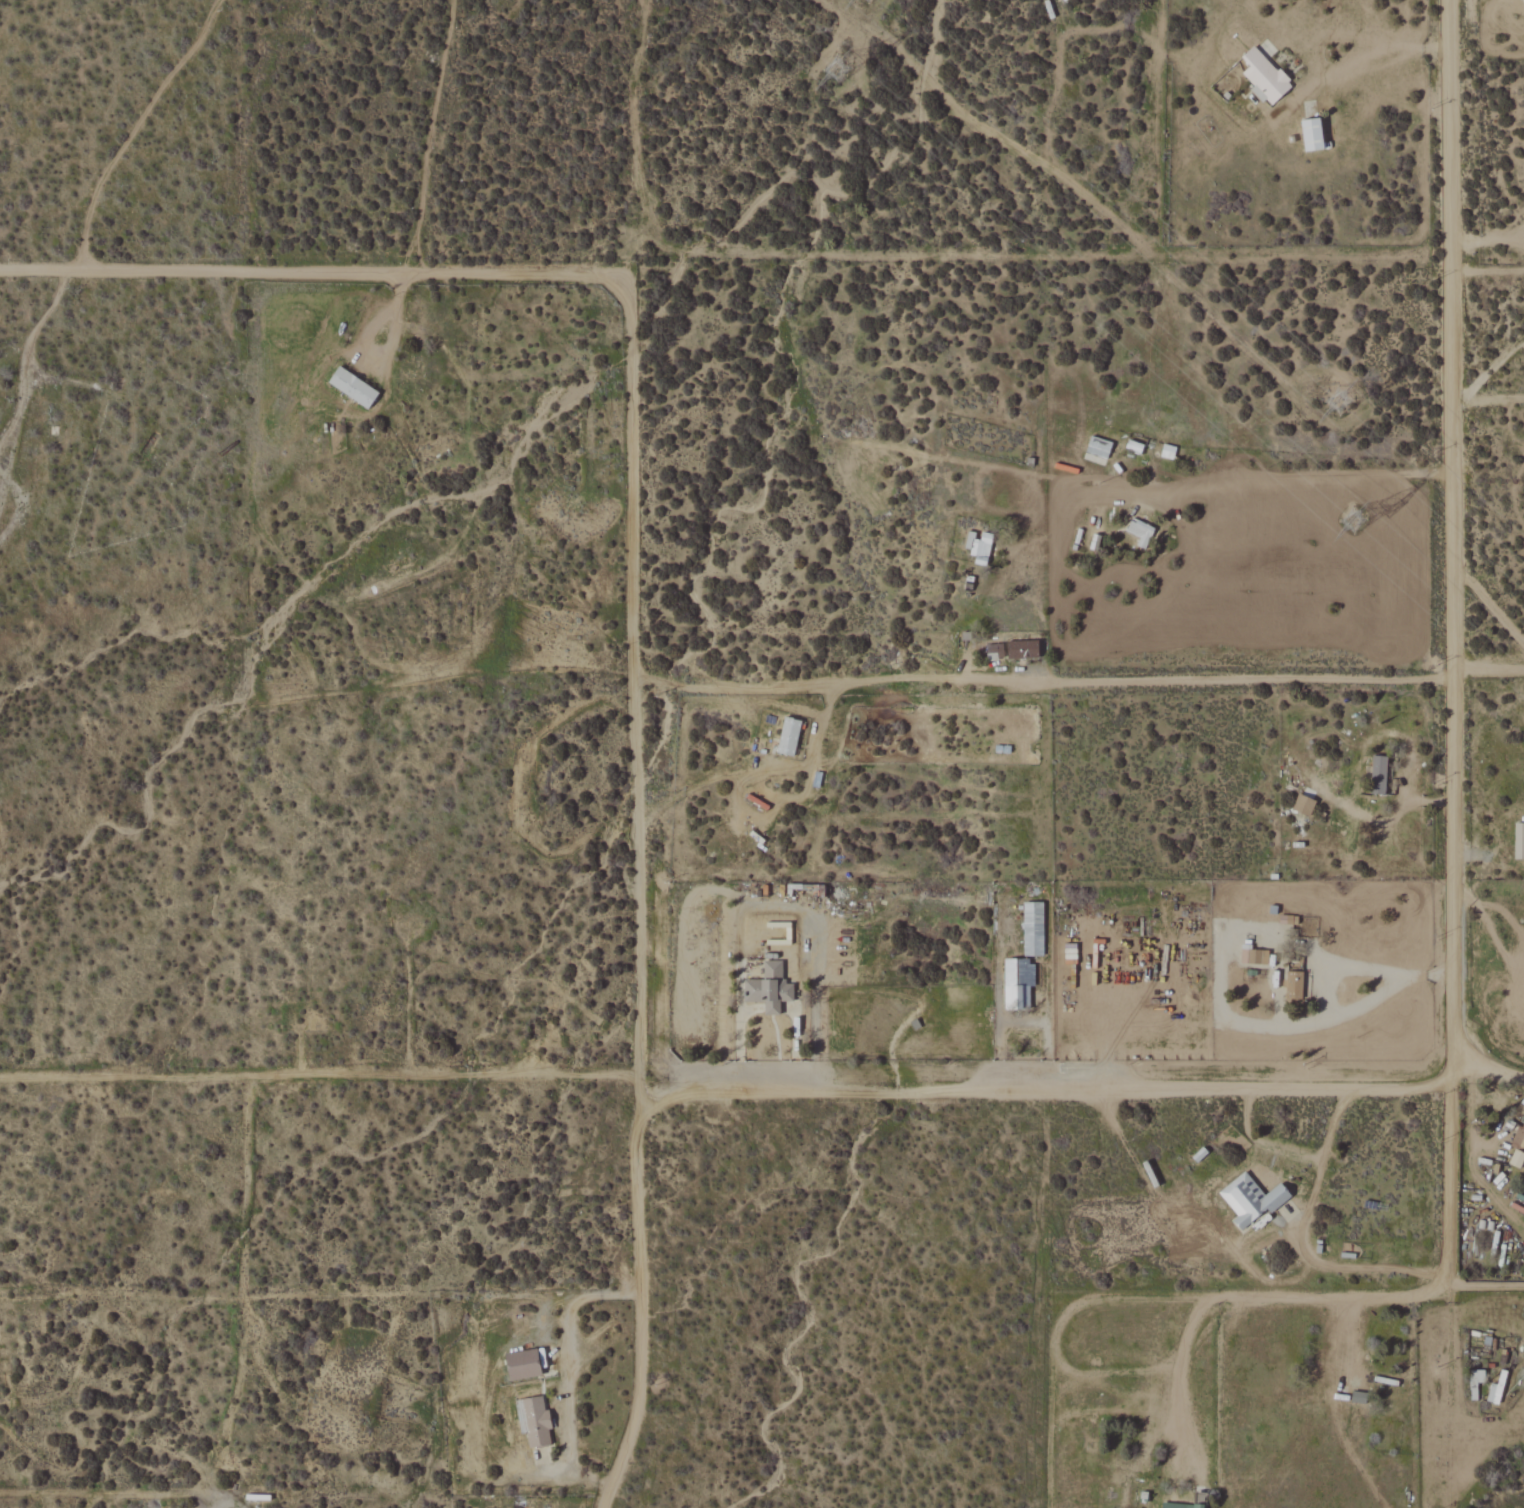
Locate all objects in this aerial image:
road: (1345, 46)
power tower: (840, 74)
building: (1264, 77)
building: (1312, 136)
road: (1066, 181)
road: (1486, 239)
road: (719, 250)
road: (389, 316)
building: (352, 388)
road: (1487, 389)
power tower: (1338, 397)
road: (1361, 407)
road: (1296, 482)
power tower: (1356, 526)
building: (1140, 532)
building: (978, 543)
road: (1487, 601)
building: (1022, 649)
building: (994, 652)
road: (1452, 661)
road: (637, 678)
road: (1075, 684)
building: (788, 736)
road: (757, 762)
building: (1378, 775)
building: (1303, 805)
building: (1519, 841)
building: (1033, 929)
building: (1254, 956)
road: (1334, 972)
building: (1293, 986)
building: (769, 988)
road: (324, 1072)
road: (1085, 1083)
building: (1520, 1137)
building: (1517, 1159)
building: (1251, 1201)
road: (1490, 1286)
road: (1266, 1299)
road: (641, 1300)
road: (1062, 1320)
road: (561, 1360)
building: (522, 1365)
building: (1496, 1390)
building: (534, 1422)
building: (1181, 1506)

